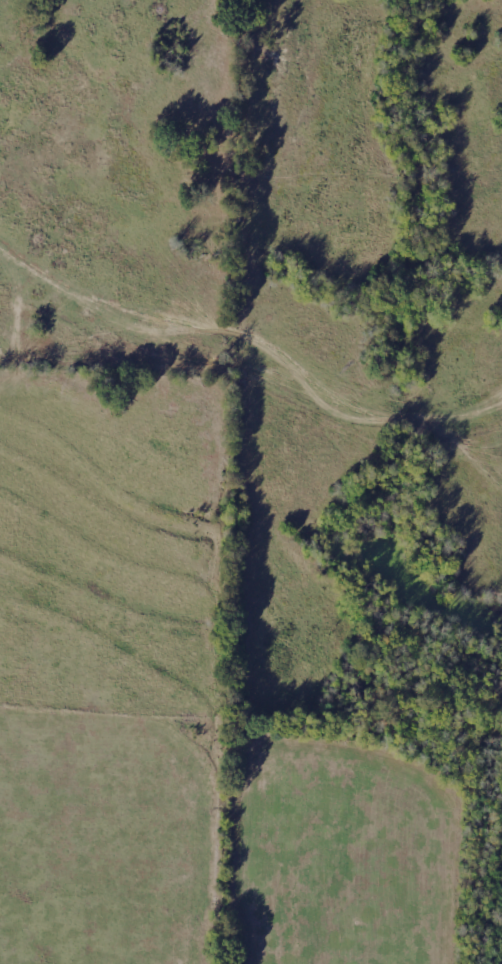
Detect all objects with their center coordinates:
road: (241, 367)

